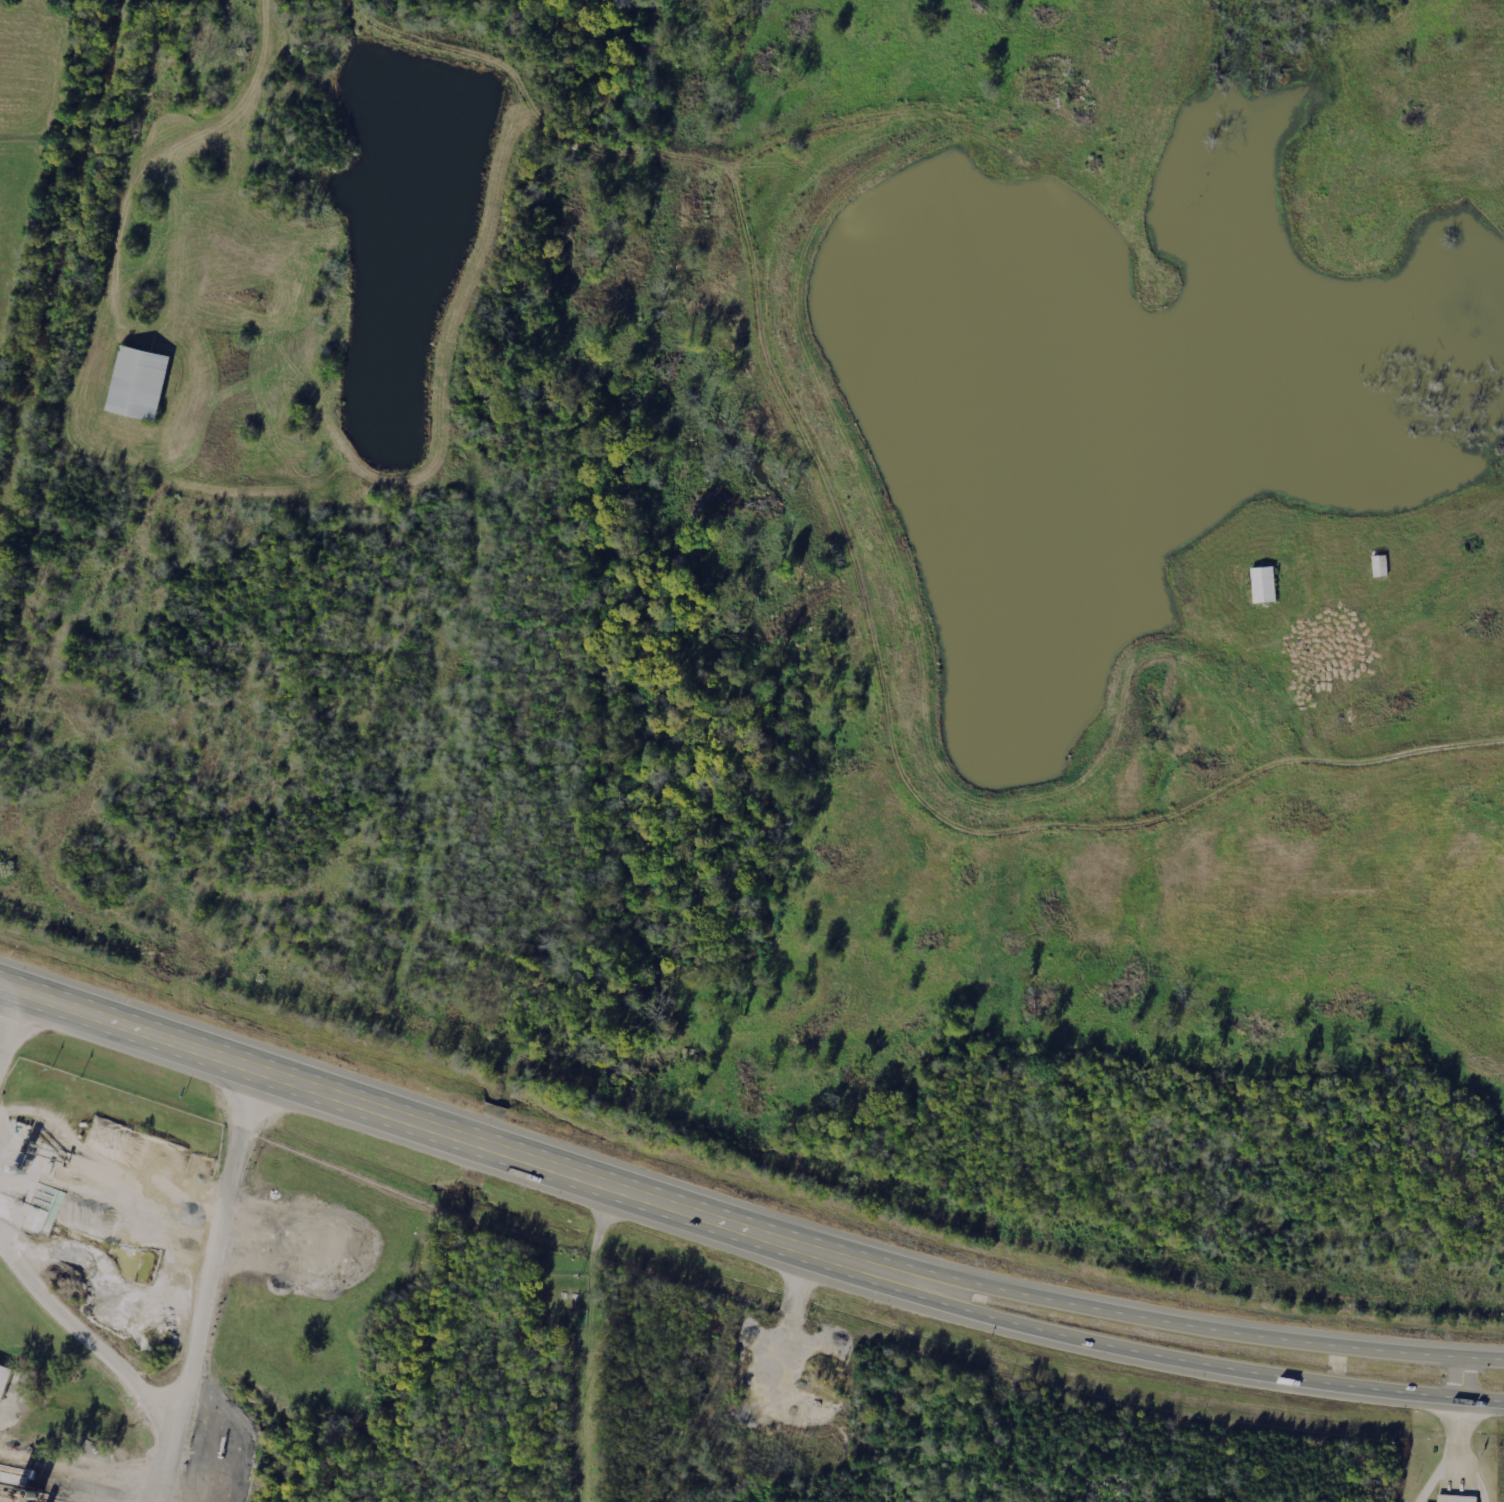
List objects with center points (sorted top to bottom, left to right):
railway: (68, 277)
building: (132, 383)
building: (1263, 584)
road: (433, 1126)
road: (1184, 1322)
road: (1180, 1359)
road: (1463, 1378)
building: (3, 1379)
building: (1453, 1496)

